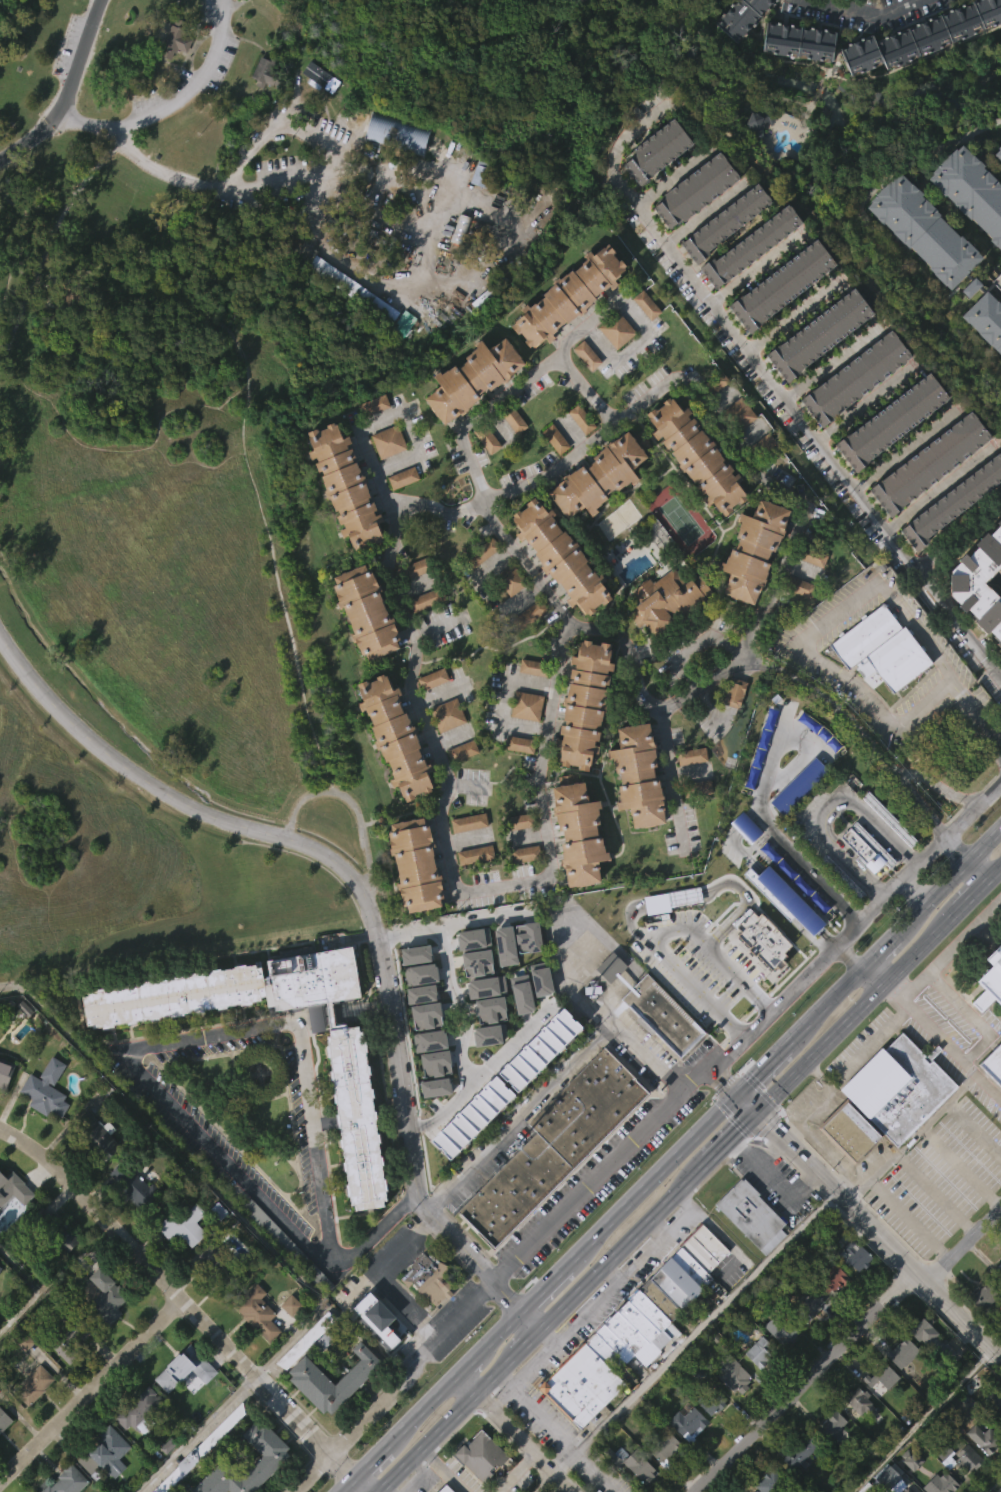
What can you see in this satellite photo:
road: (229, 4)
building: (806, 4)
road: (862, 9)
pier: (6, 10)
building: (741, 16)
building: (920, 34)
building: (173, 38)
building: (799, 40)
building: (746, 41)
road: (78, 63)
building: (921, 68)
building: (264, 71)
building: (796, 75)
building: (173, 76)
road: (173, 104)
building: (262, 107)
building: (317, 111)
building: (756, 121)
road: (627, 129)
building: (395, 133)
road: (25, 139)
building: (660, 151)
building: (756, 155)
building: (1000, 155)
building: (394, 168)
building: (484, 172)
road: (672, 176)
road: (304, 180)
building: (655, 185)
building: (970, 189)
building: (699, 191)
building: (478, 210)
road: (703, 214)
building: (692, 225)
building: (459, 228)
building: (921, 229)
road: (47, 241)
building: (754, 247)
building: (723, 256)
road: (424, 258)
building: (457, 263)
building: (921, 265)
road: (753, 272)
building: (748, 279)
building: (997, 280)
building: (784, 286)
building: (569, 297)
building: (483, 300)
building: (645, 304)
road: (793, 316)
building: (779, 319)
building: (985, 319)
building: (351, 323)
building: (616, 329)
building: (566, 330)
building: (481, 333)
building: (819, 334)
building: (644, 338)
road: (633, 346)
road: (567, 352)
building: (585, 354)
building: (985, 354)
road: (829, 360)
building: (614, 363)
building: (817, 368)
building: (856, 377)
building: (476, 379)
building: (712, 384)
building: (584, 389)
road: (863, 404)
building: (372, 405)
road: (478, 410)
building: (471, 411)
building: (853, 411)
building: (736, 415)
building: (712, 416)
building: (512, 418)
park: (229, 419)
building: (580, 419)
building: (893, 420)
road: (808, 428)
road: (408, 431)
building: (371, 438)
building: (486, 438)
building: (554, 439)
building: (387, 441)
road: (905, 446)
building: (737, 447)
building: (759, 447)
building: (579, 452)
building: (511, 453)
building: (699, 455)
building: (889, 455)
building: (928, 464)
road: (753, 469)
building: (485, 472)
building: (553, 472)
building: (604, 473)
building: (386, 475)
building: (402, 478)
building: (348, 483)
road: (937, 485)
building: (694, 489)
building: (927, 497)
road: (395, 502)
building: (951, 503)
building: (598, 508)
building: (400, 511)
building: (343, 519)
road: (961, 532)
building: (950, 536)
building: (758, 548)
building: (483, 552)
building: (565, 555)
building: (811, 556)
road: (528, 565)
building: (411, 570)
building: (511, 579)
building: (1000, 581)
building: (978, 585)
building: (478, 587)
building: (799, 587)
building: (558, 589)
building: (669, 598)
building: (425, 600)
building: (410, 603)
building: (368, 610)
building: (507, 613)
building: (530, 613)
road: (480, 620)
building: (797, 620)
building: (665, 631)
building: (423, 633)
road: (800, 639)
road: (753, 642)
road: (696, 644)
building: (364, 645)
building: (526, 648)
building: (881, 648)
building: (532, 667)
building: (434, 678)
building: (878, 682)
building: (736, 692)
road: (505, 702)
building: (588, 703)
building: (527, 705)
building: (430, 712)
building: (448, 714)
road: (979, 716)
road: (851, 724)
building: (732, 725)
building: (398, 736)
building: (520, 743)
building: (445, 748)
building: (463, 750)
building: (691, 756)
building: (393, 769)
building: (517, 777)
building: (641, 777)
road: (668, 779)
building: (460, 784)
road: (938, 785)
building: (696, 787)
road: (826, 804)
building: (518, 820)
building: (699, 820)
building: (796, 820)
building: (468, 821)
road: (769, 828)
building: (583, 834)
building: (867, 850)
building: (886, 852)
building: (474, 853)
building: (524, 853)
building: (743, 860)
building: (411, 862)
road: (447, 866)
building: (863, 881)
road: (949, 882)
building: (522, 887)
building: (472, 888)
road: (689, 896)
road: (747, 898)
road: (365, 901)
road: (635, 907)
building: (839, 909)
building: (802, 921)
road: (454, 925)
building: (781, 931)
road: (658, 932)
road: (950, 948)
road: (881, 952)
road: (850, 957)
building: (525, 970)
building: (470, 971)
building: (760, 971)
road: (874, 977)
building: (503, 978)
road: (572, 978)
building: (990, 979)
building: (413, 987)
building: (475, 996)
building: (608, 1000)
building: (418, 1007)
building: (657, 1008)
road: (826, 1008)
building: (539, 1011)
building: (989, 1012)
road: (973, 1018)
building: (484, 1019)
building: (418, 1026)
building: (519, 1027)
road: (512, 1039)
road: (873, 1041)
building: (488, 1042)
road: (942, 1043)
road: (461, 1045)
building: (422, 1047)
building: (660, 1047)
road: (301, 1058)
building: (993, 1063)
building: (486, 1067)
building: (4, 1070)
road: (763, 1070)
building: (427, 1073)
building: (352, 1078)
road: (725, 1080)
building: (537, 1082)
road: (550, 1082)
building: (895, 1086)
building: (44, 1089)
traffic signals: (740, 1094)
building: (433, 1096)
building: (992, 1097)
road: (768, 1099)
building: (4, 1104)
traffic signals: (758, 1109)
building: (433, 1120)
building: (44, 1122)
road: (804, 1122)
road: (973, 1129)
building: (849, 1131)
road: (640, 1132)
road: (910, 1137)
building: (97, 1139)
building: (552, 1145)
building: (354, 1149)
building: (460, 1160)
road: (227, 1162)
building: (846, 1164)
road: (959, 1167)
building: (95, 1169)
road: (765, 1169)
road: (654, 1179)
building: (8, 1184)
building: (133, 1184)
road: (934, 1192)
building: (751, 1215)
building: (130, 1217)
road: (908, 1218)
building: (13, 1221)
road: (871, 1222)
building: (181, 1224)
building: (53, 1229)
road: (656, 1230)
road: (375, 1234)
building: (216, 1243)
building: (749, 1248)
building: (258, 1250)
building: (856, 1255)
building: (181, 1258)
building: (219, 1267)
building: (60, 1268)
building: (997, 1271)
road: (613, 1272)
road: (626, 1276)
road: (382, 1277)
building: (427, 1277)
building: (832, 1278)
road: (543, 1289)
building: (854, 1291)
building: (107, 1296)
building: (983, 1296)
building: (998, 1298)
road: (185, 1303)
building: (808, 1306)
building: (426, 1310)
building: (255, 1312)
building: (827, 1315)
road: (528, 1322)
road: (704, 1322)
building: (380, 1325)
building: (781, 1326)
building: (104, 1328)
building: (980, 1330)
road: (500, 1332)
building: (631, 1332)
building: (288, 1338)
building: (807, 1339)
building: (930, 1339)
building: (70, 1340)
building: (304, 1340)
road: (546, 1340)
road: (285, 1341)
road: (527, 1343)
road: (844, 1343)
building: (255, 1344)
building: (328, 1345)
building: (375, 1351)
building: (759, 1351)
building: (901, 1352)
building: (777, 1362)
road: (469, 1364)
building: (185, 1368)
building: (926, 1368)
building: (307, 1373)
road: (497, 1373)
building: (731, 1374)
building: (309, 1376)
building: (881, 1376)
building: (63, 1381)
building: (31, 1384)
road: (468, 1384)
building: (757, 1384)
building: (900, 1385)
road: (90, 1390)
building: (181, 1400)
building: (997, 1400)
building: (859, 1401)
building: (712, 1402)
building: (730, 1407)
building: (879, 1409)
building: (140, 1410)
building: (307, 1411)
building: (32, 1416)
road: (920, 1418)
building: (3, 1420)
building: (999, 1420)
building: (687, 1421)
building: (834, 1427)
road: (194, 1433)
road: (399, 1433)
road: (550, 1434)
building: (858, 1434)
building: (710, 1435)
building: (984, 1439)
building: (137, 1442)
road: (427, 1442)
road: (526, 1442)
building: (109, 1449)
building: (198, 1449)
building: (664, 1450)
building: (801, 1450)
building: (3, 1452)
building: (479, 1455)
building: (685, 1455)
building: (273, 1456)
building: (969, 1457)
building: (831, 1458)
road: (561, 1461)
building: (630, 1463)
road: (442, 1470)
building: (981, 1471)
road: (516, 1472)
building: (263, 1473)
road: (420, 1476)
building: (890, 1476)
building: (104, 1479)
road: (543, 1480)
building: (65, 1481)
building: (478, 1481)
building: (664, 1481)
building: (770, 1482)
building: (799, 1482)
building: (940, 1484)
building: (618, 1485)
building: (632, 1488)
building: (443, 1489)
building: (907, 1490)
road: (377, 1491)

